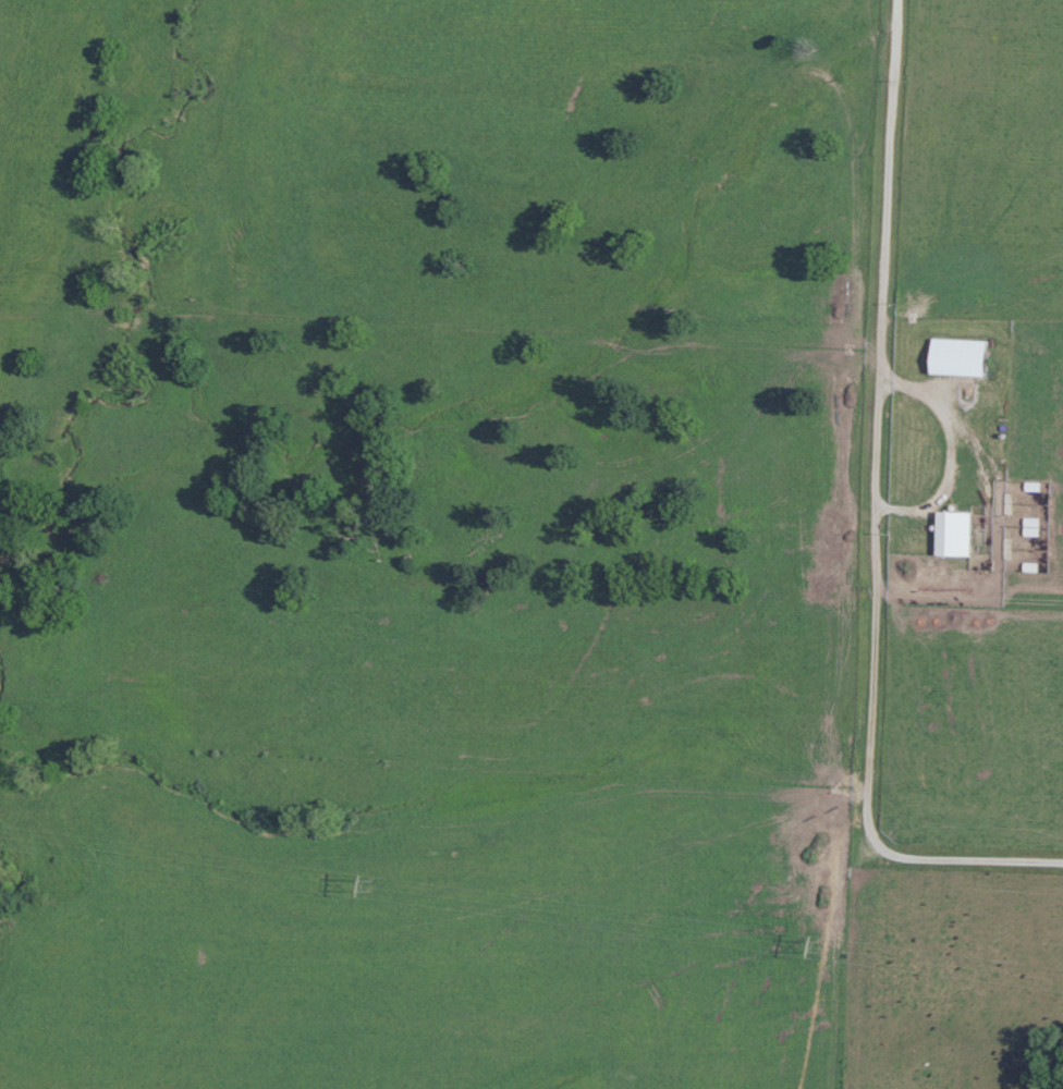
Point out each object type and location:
building: (966, 357)
road: (926, 389)
building: (958, 534)
road: (878, 760)
power tower: (369, 880)
power tower: (818, 943)

